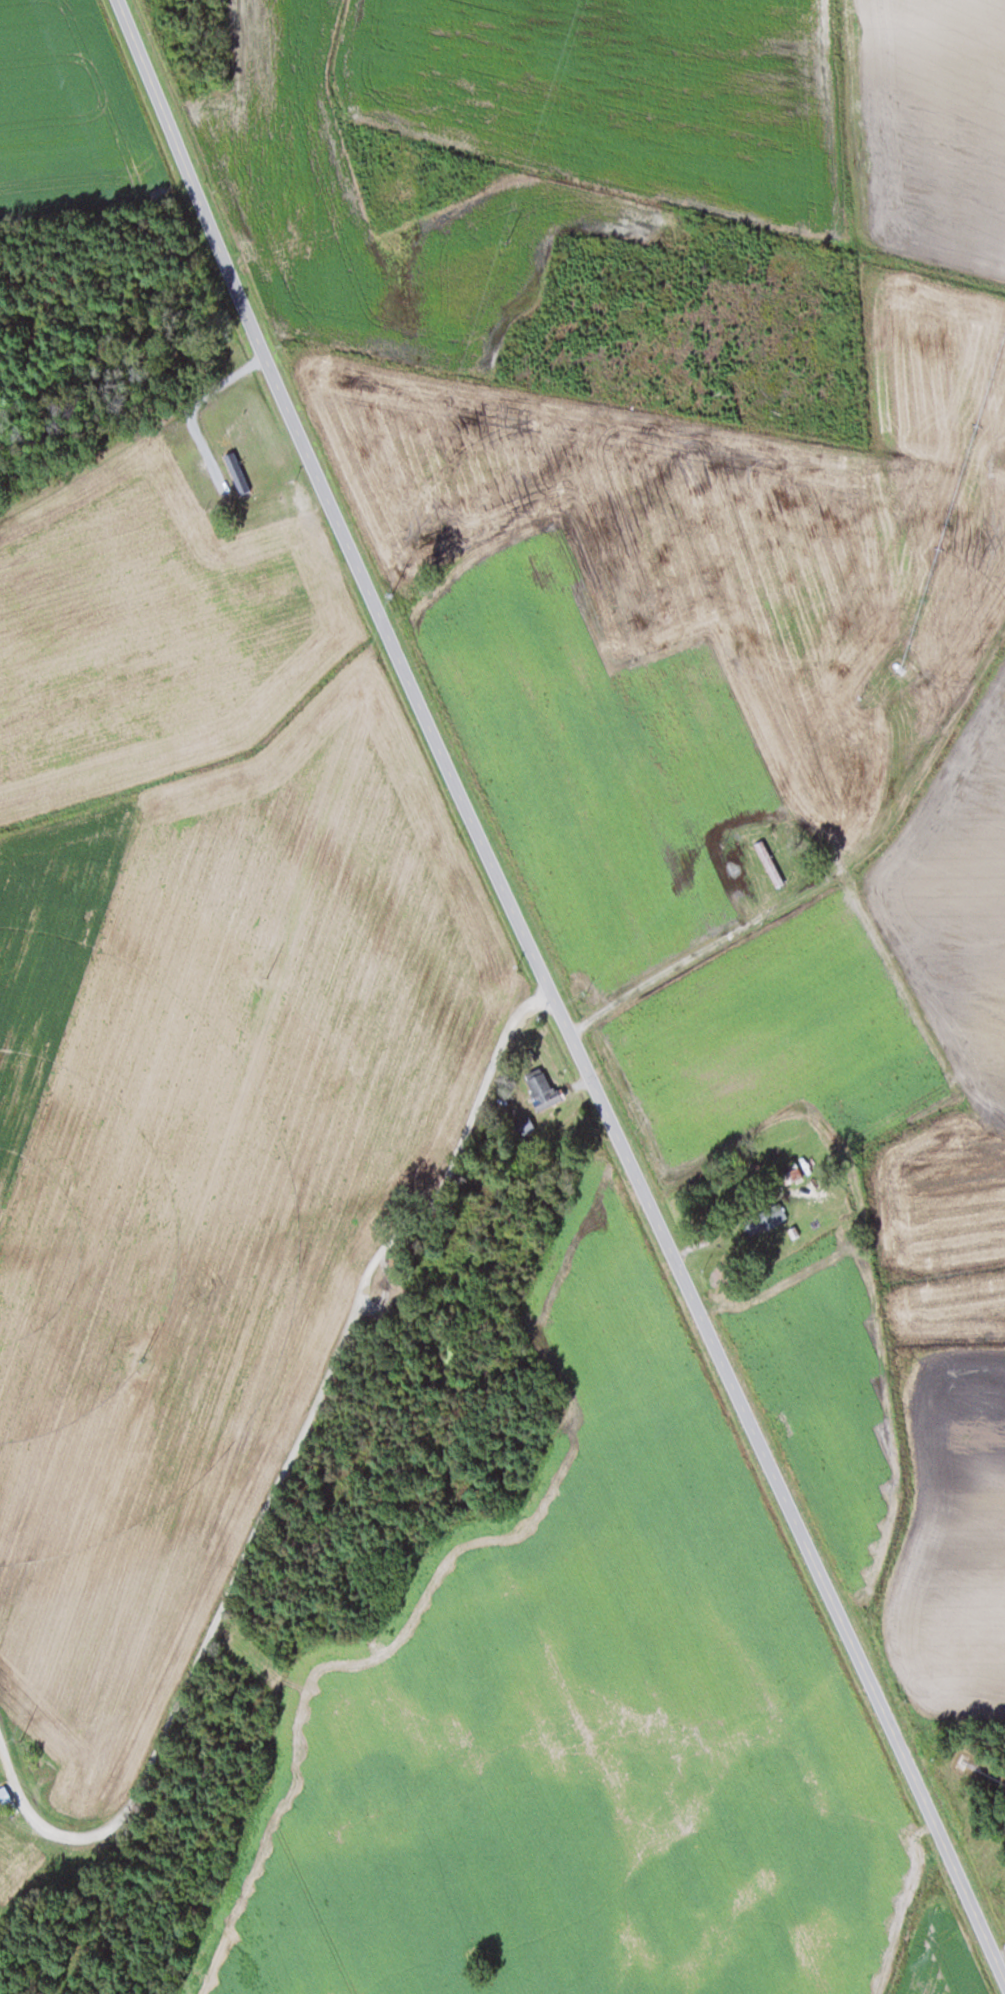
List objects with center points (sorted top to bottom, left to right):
building: (268, 506)
building: (276, 582)
building: (770, 863)
road: (671, 973)
road: (553, 992)
building: (542, 1086)
building: (524, 1125)
building: (794, 1173)
building: (827, 1202)
building: (764, 1218)
road: (325, 1390)
building: (4, 1794)

